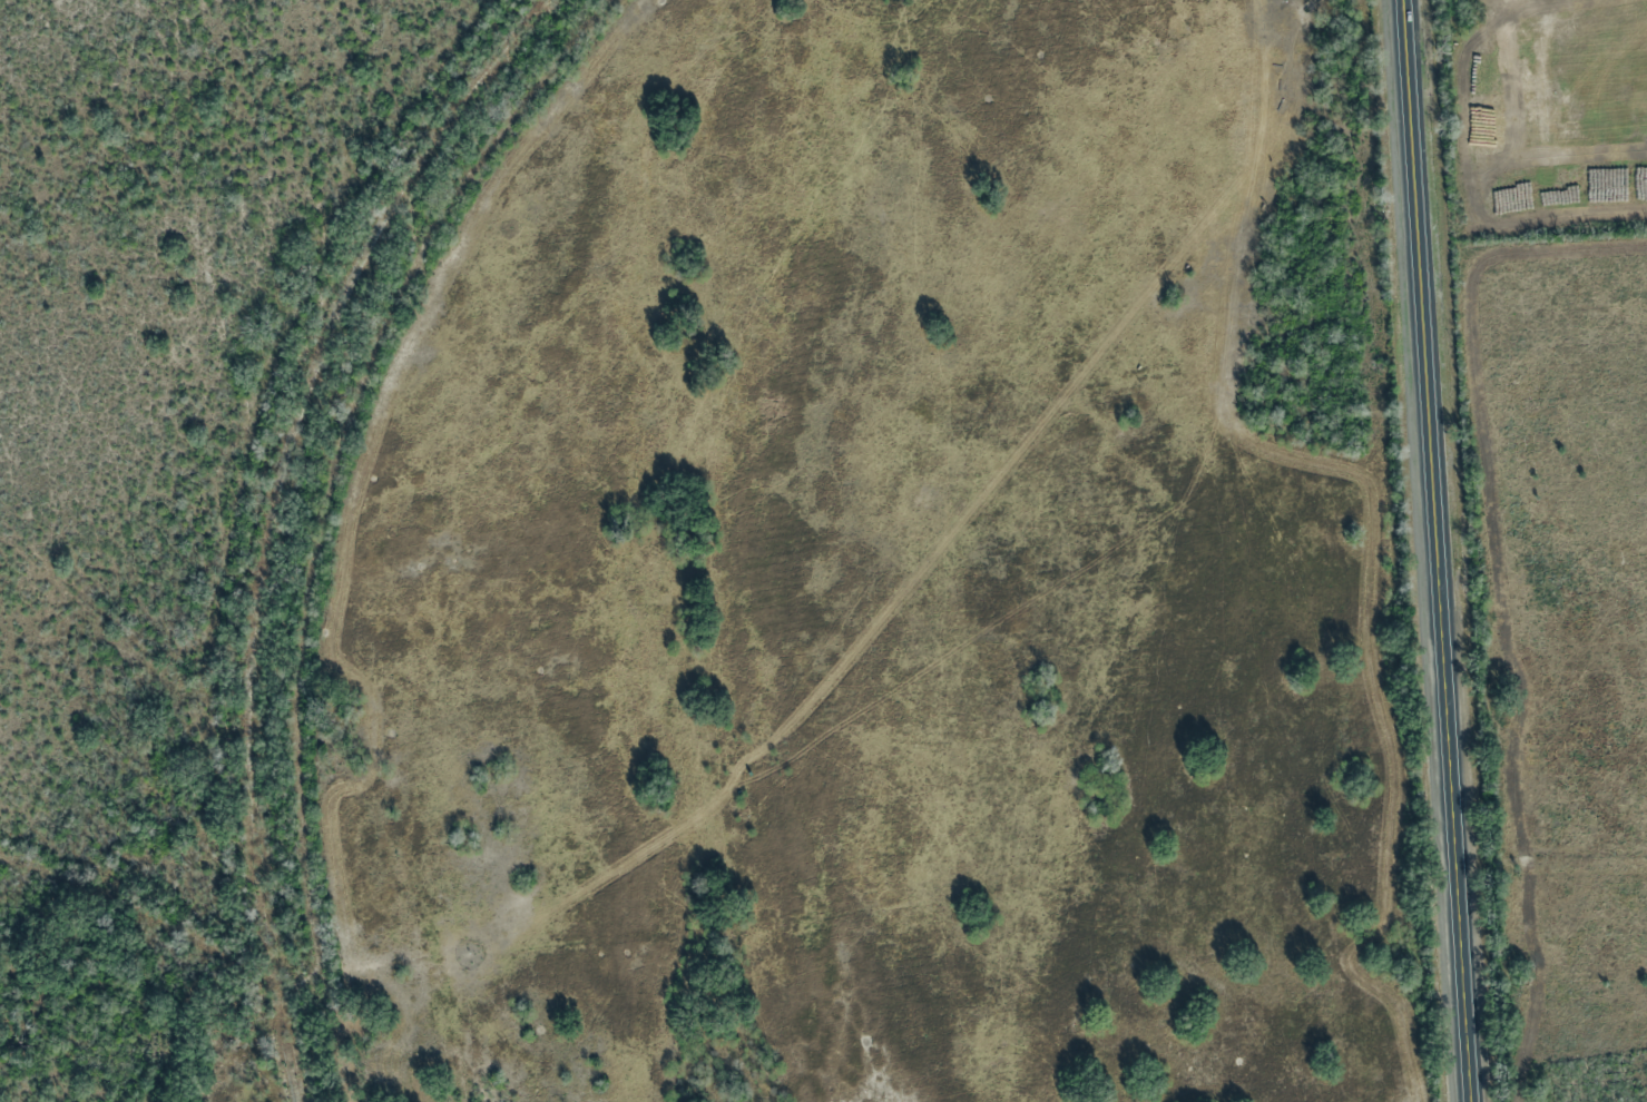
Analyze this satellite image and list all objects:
road: (322, 512)
road: (1438, 551)
road: (160, 918)

